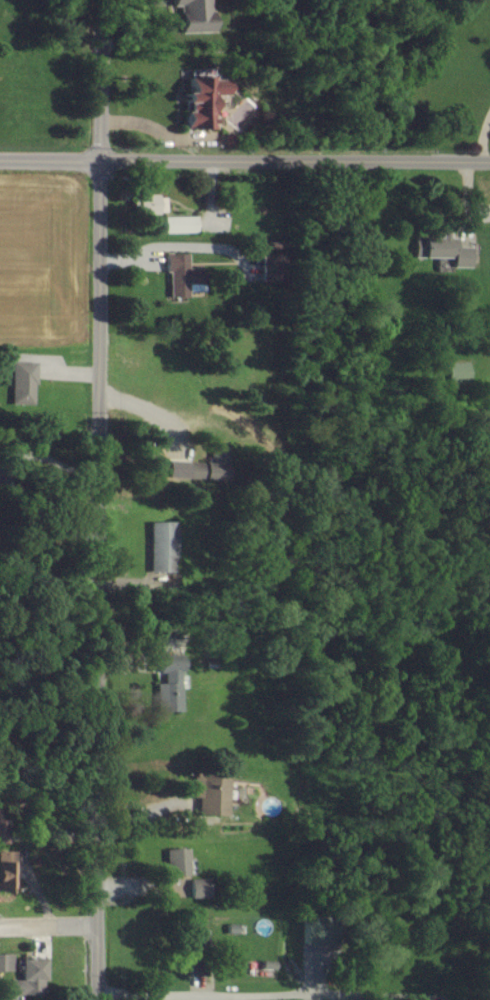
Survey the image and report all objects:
building: (193, 15)
building: (202, 101)
road: (485, 140)
road: (244, 161)
building: (148, 204)
building: (180, 224)
building: (445, 249)
building: (182, 274)
building: (461, 372)
building: (24, 382)
building: (201, 469)
road: (96, 499)
road: (39, 526)
building: (162, 547)
building: (169, 685)
building: (208, 794)
building: (4, 824)
building: (178, 861)
building: (6, 872)
building: (200, 888)
road: (49, 925)
building: (311, 933)
building: (196, 945)
building: (6, 962)
building: (31, 978)
road: (266, 995)

